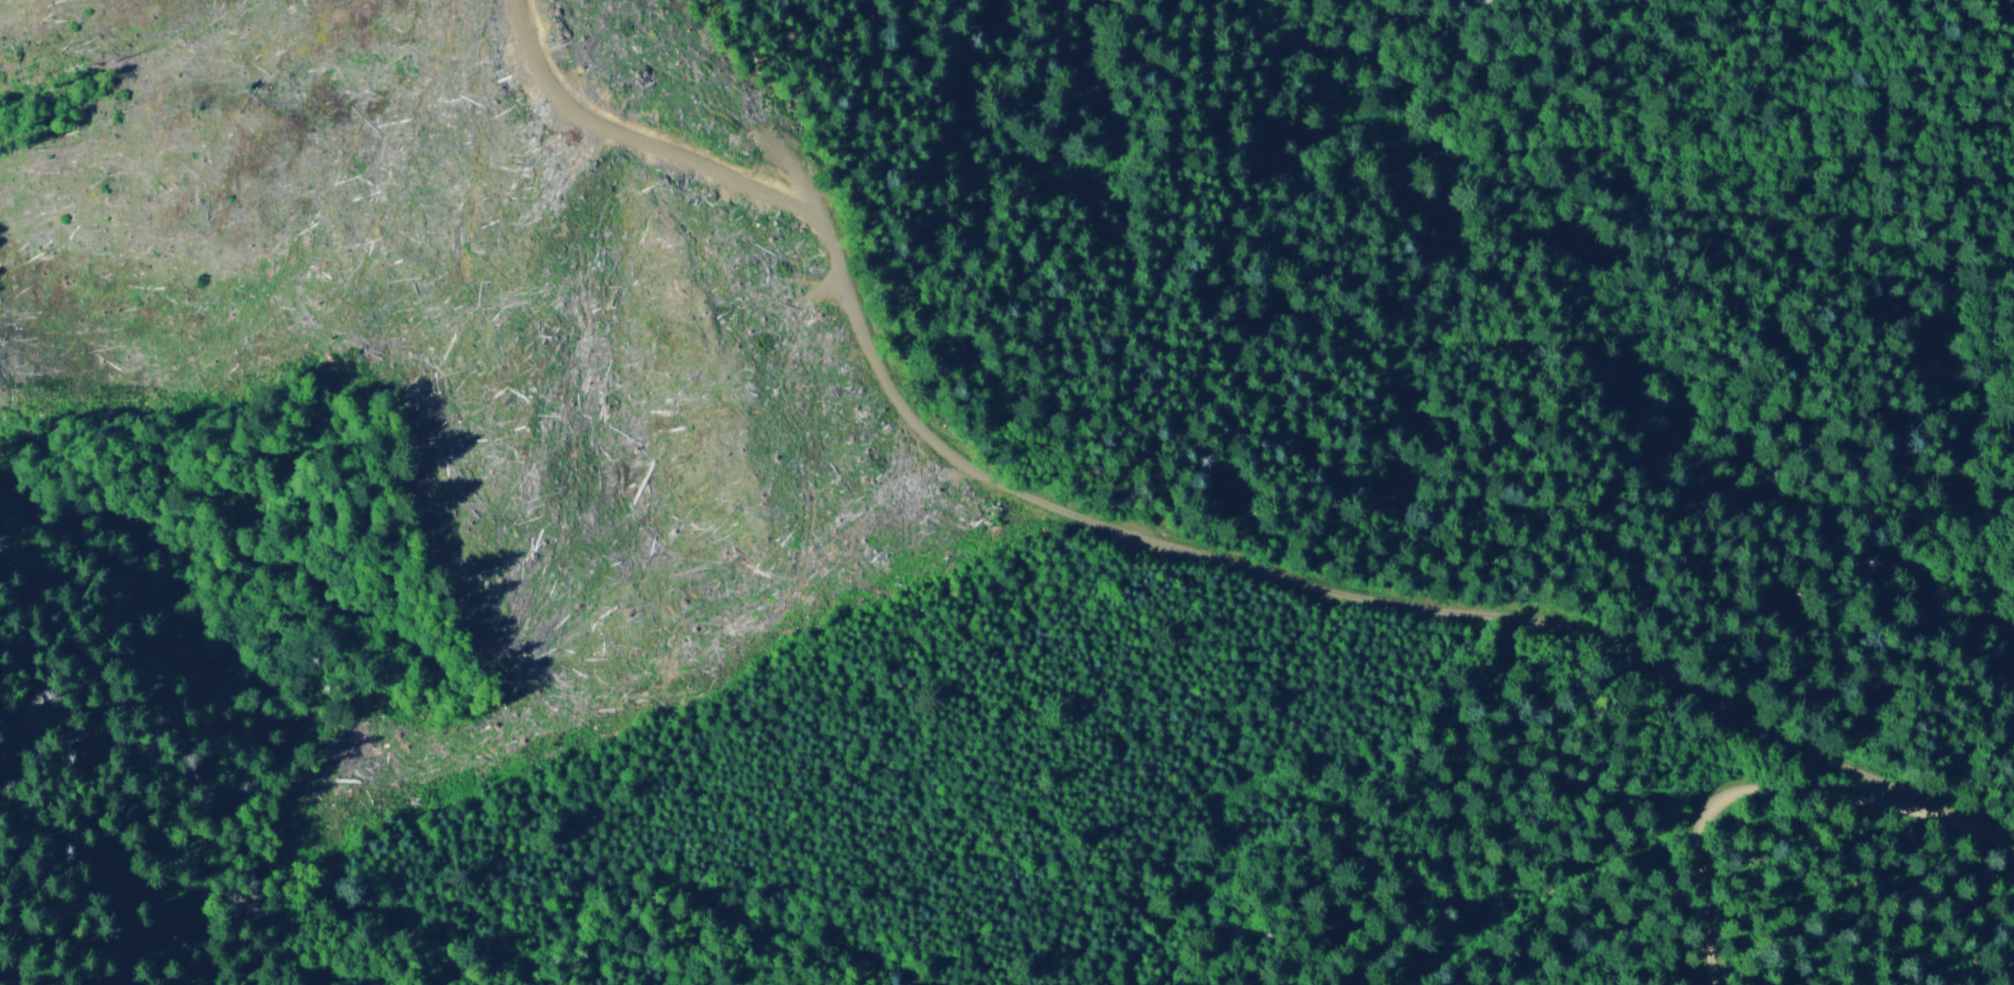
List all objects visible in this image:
road: (1770, 791)

